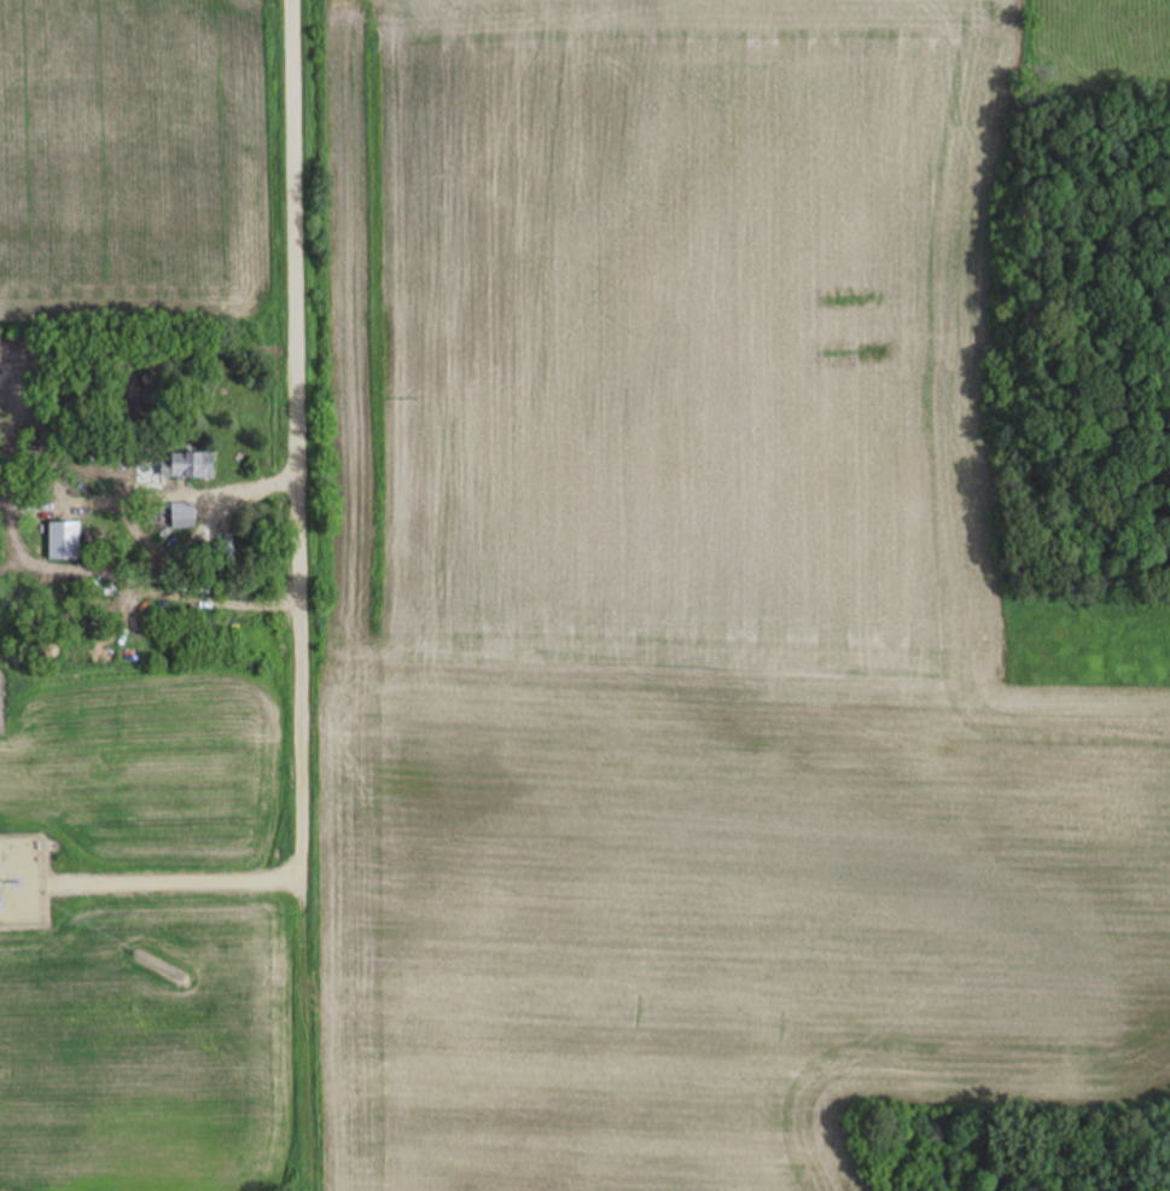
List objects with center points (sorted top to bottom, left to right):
crop: (142, 158)
building: (187, 466)
road: (298, 470)
building: (182, 515)
building: (64, 541)
building: (78, 656)
crop: (604, 658)
building: (0, 907)

